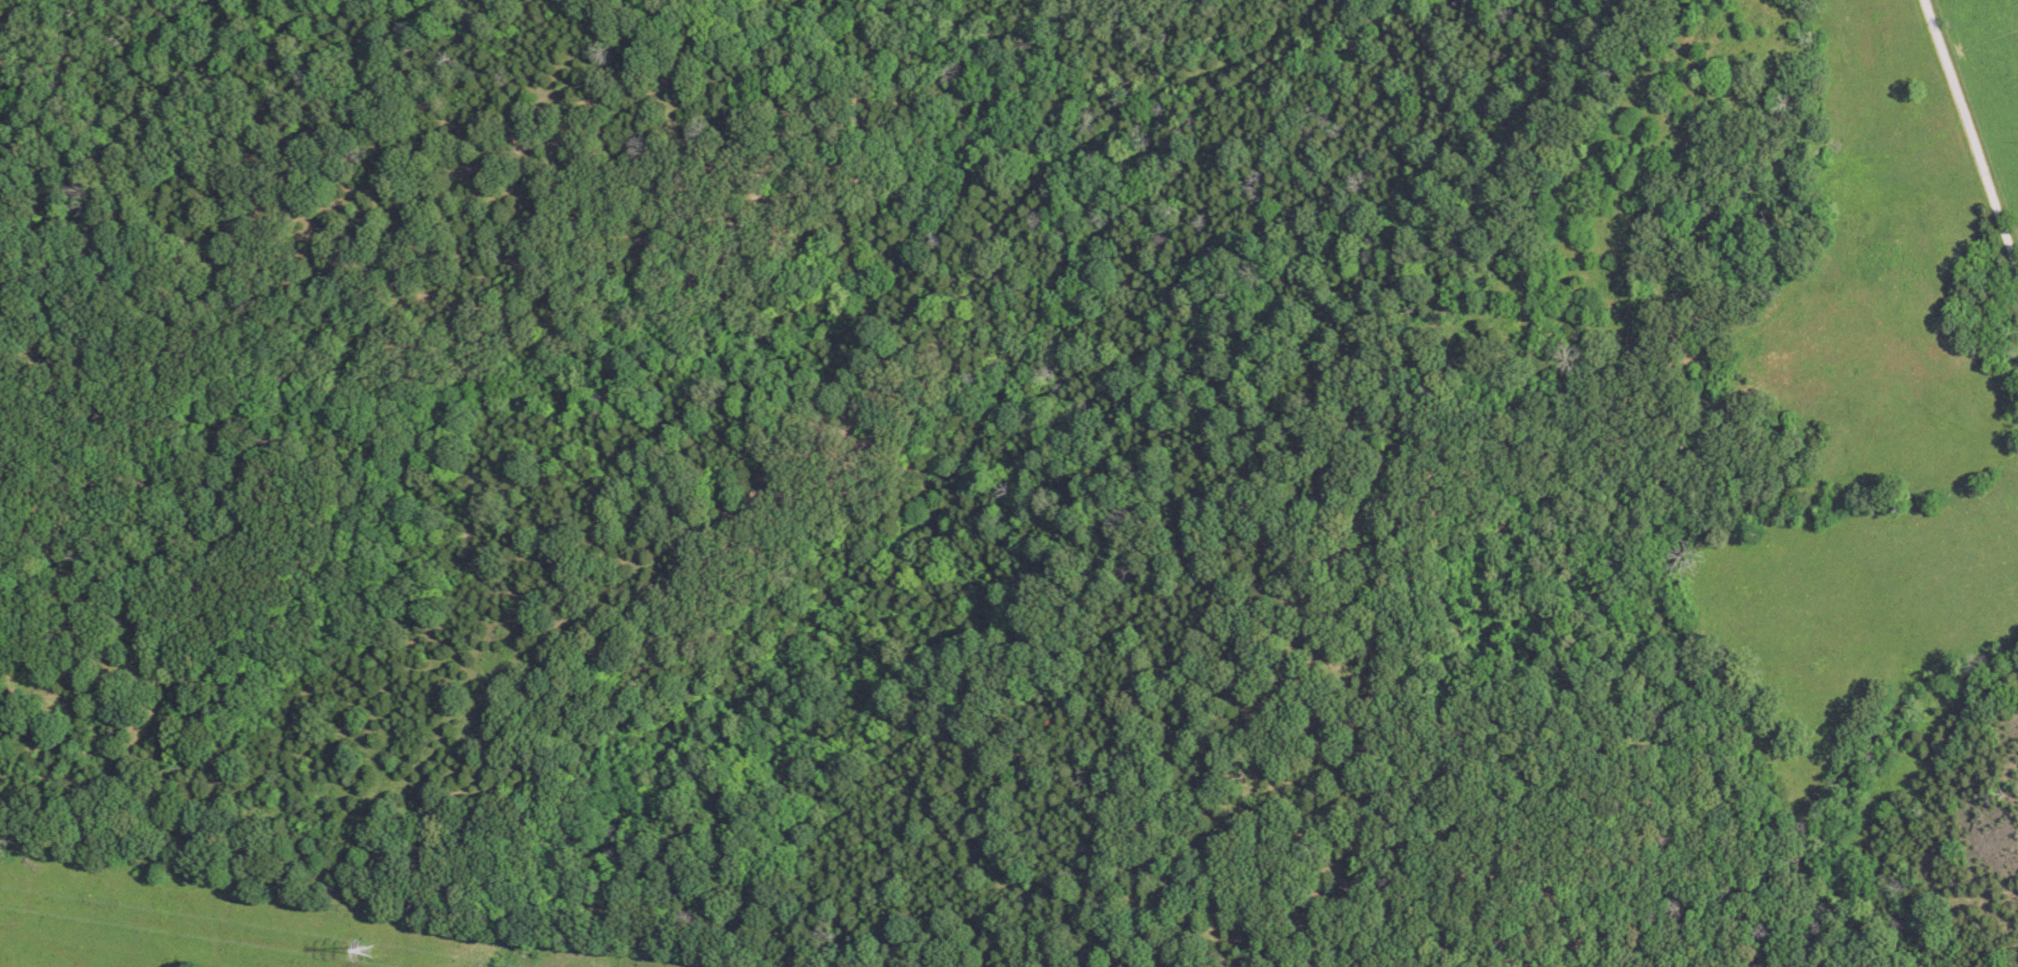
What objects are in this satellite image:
road: (1972, 129)

